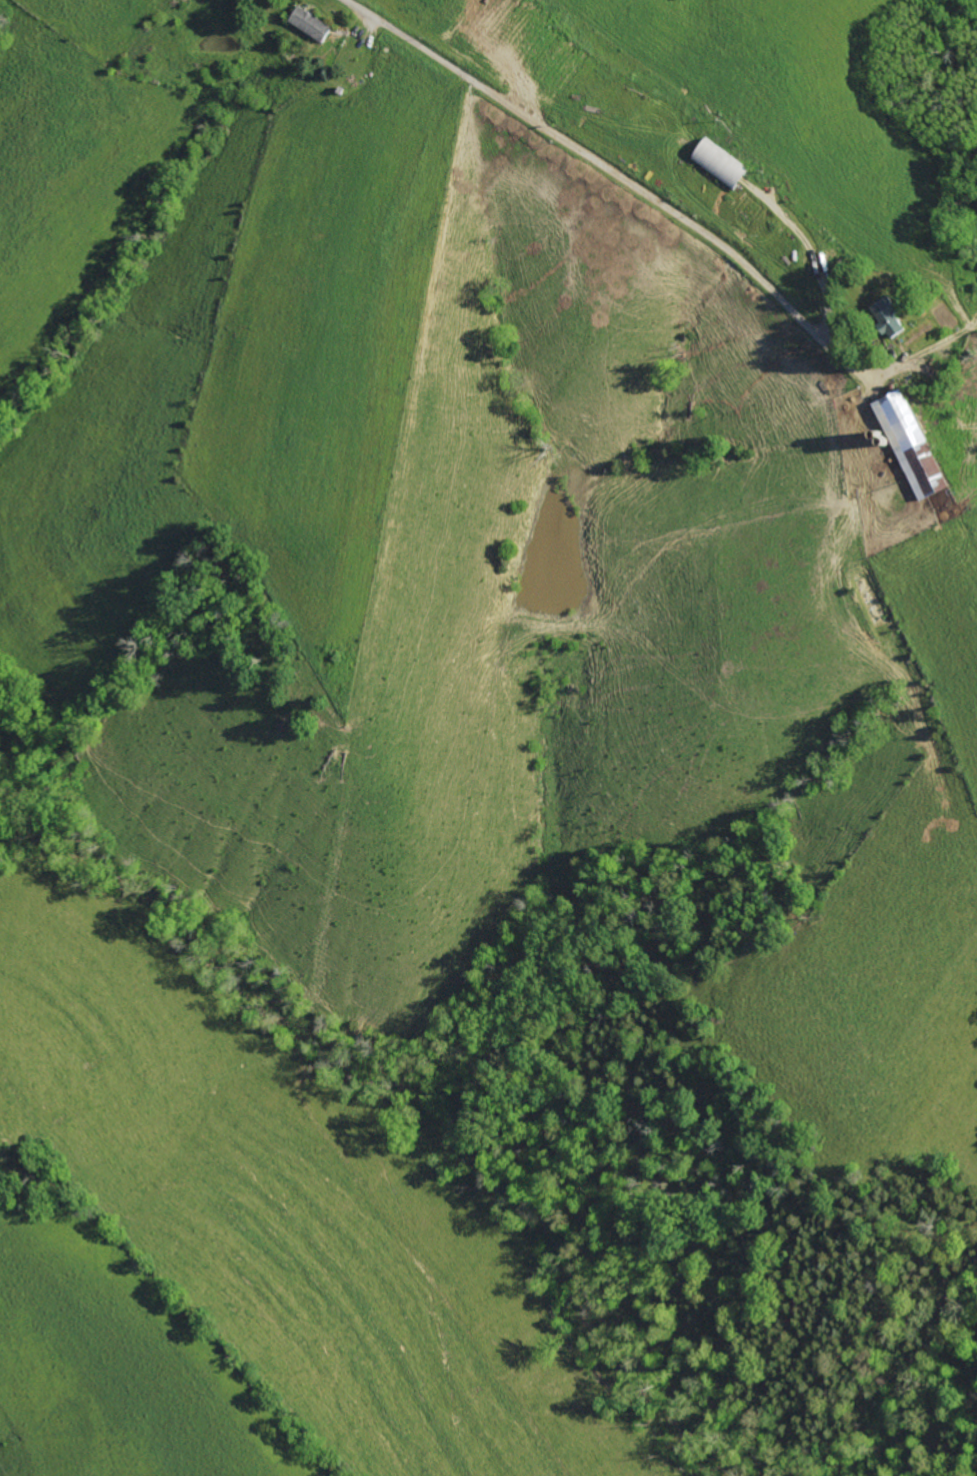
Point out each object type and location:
building: (312, 23)
road: (453, 67)
building: (723, 164)
road: (710, 236)
building: (893, 317)
building: (915, 444)

